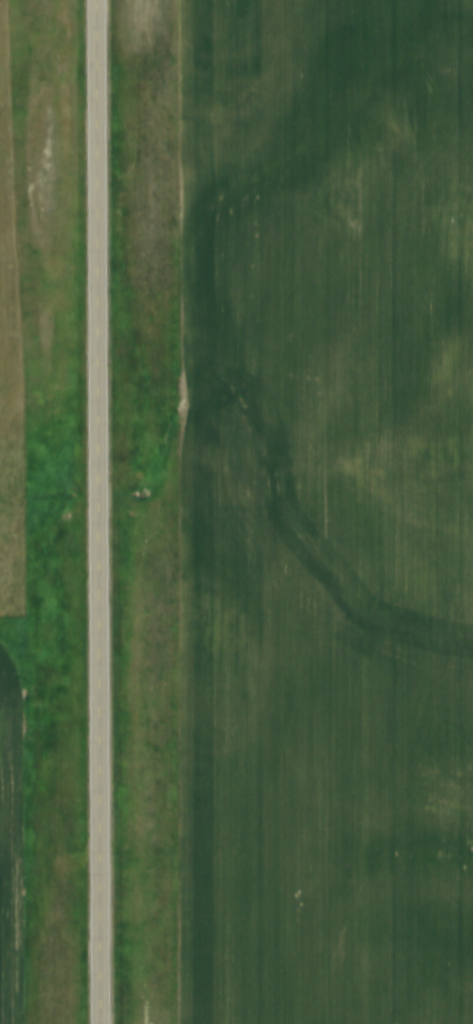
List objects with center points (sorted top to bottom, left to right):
road: (101, 511)

